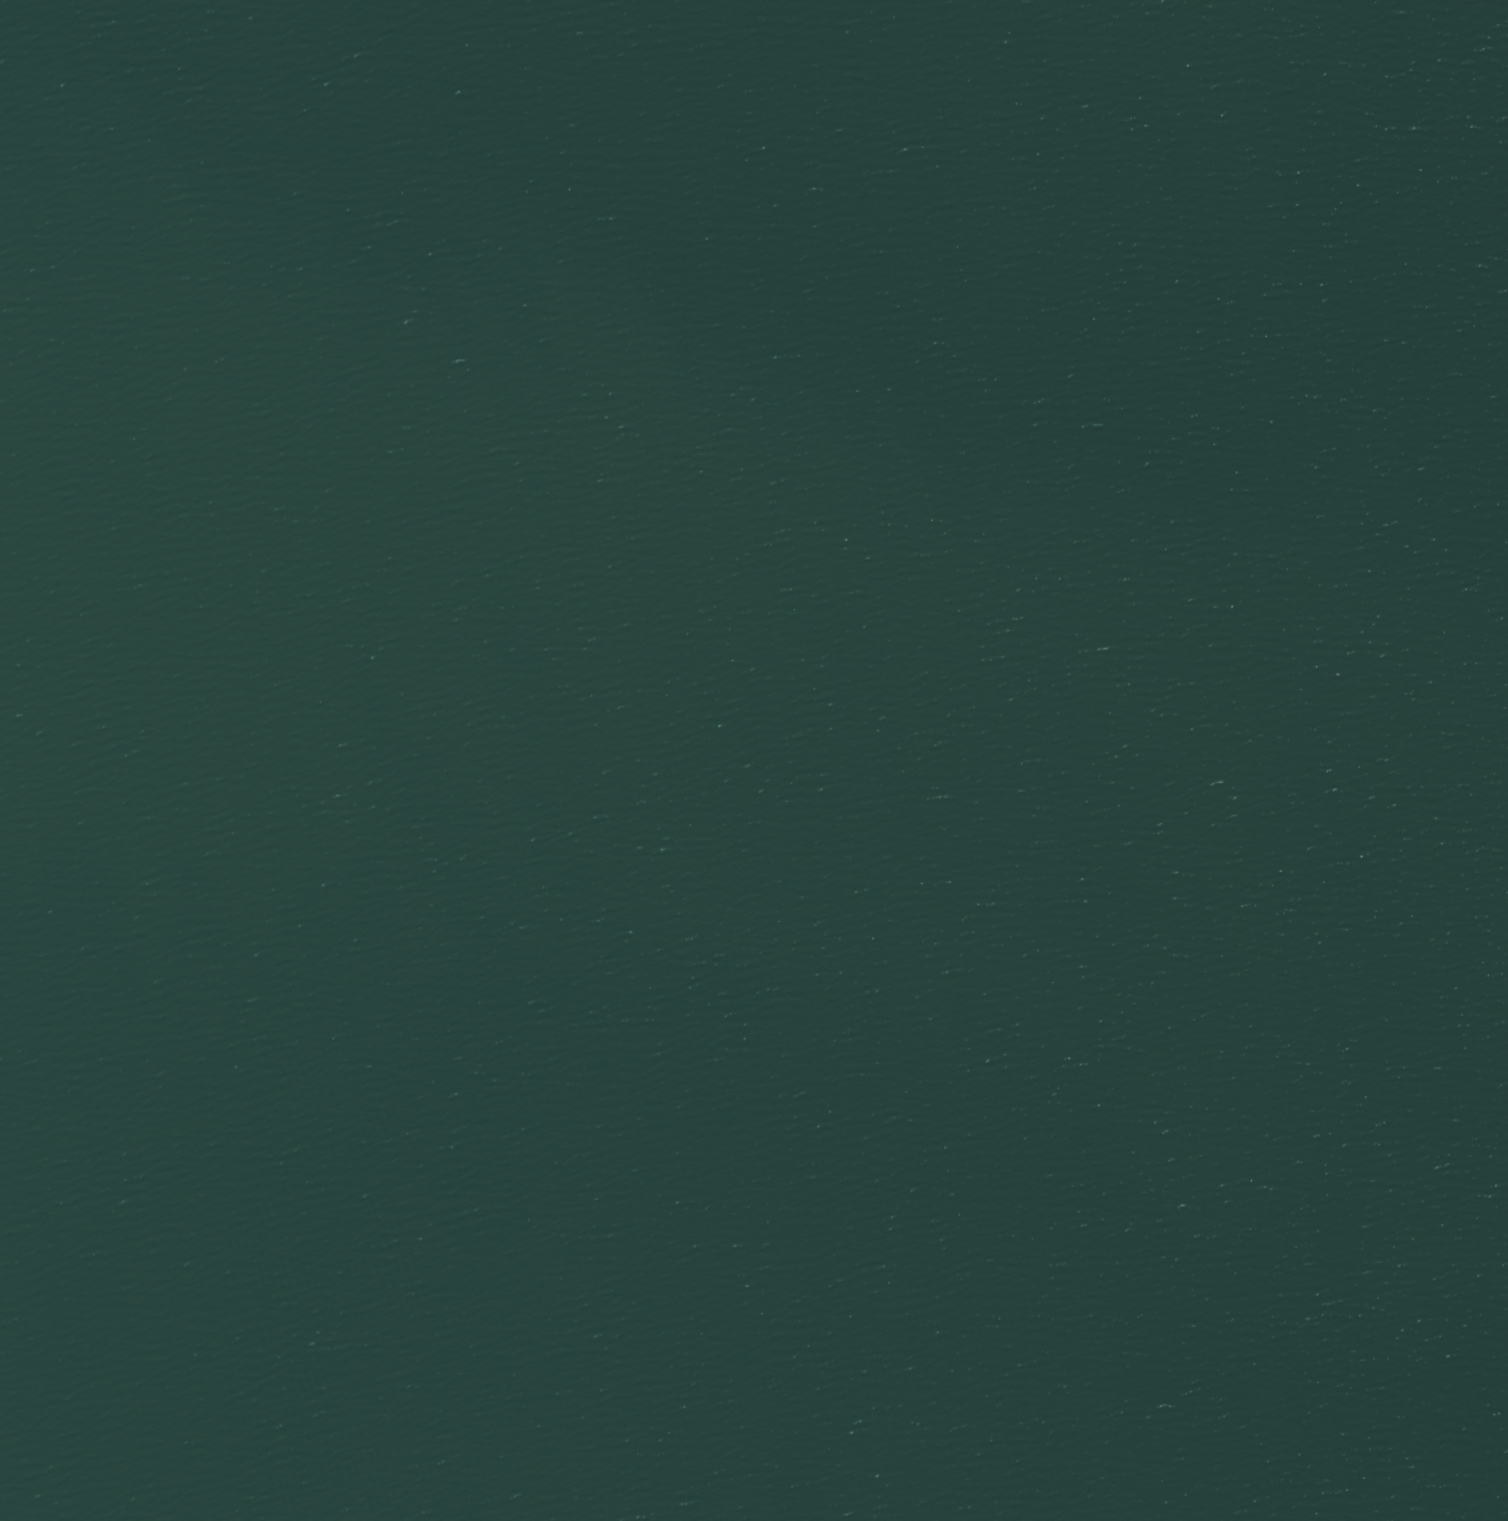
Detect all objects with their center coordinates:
river: (753, 1148)

